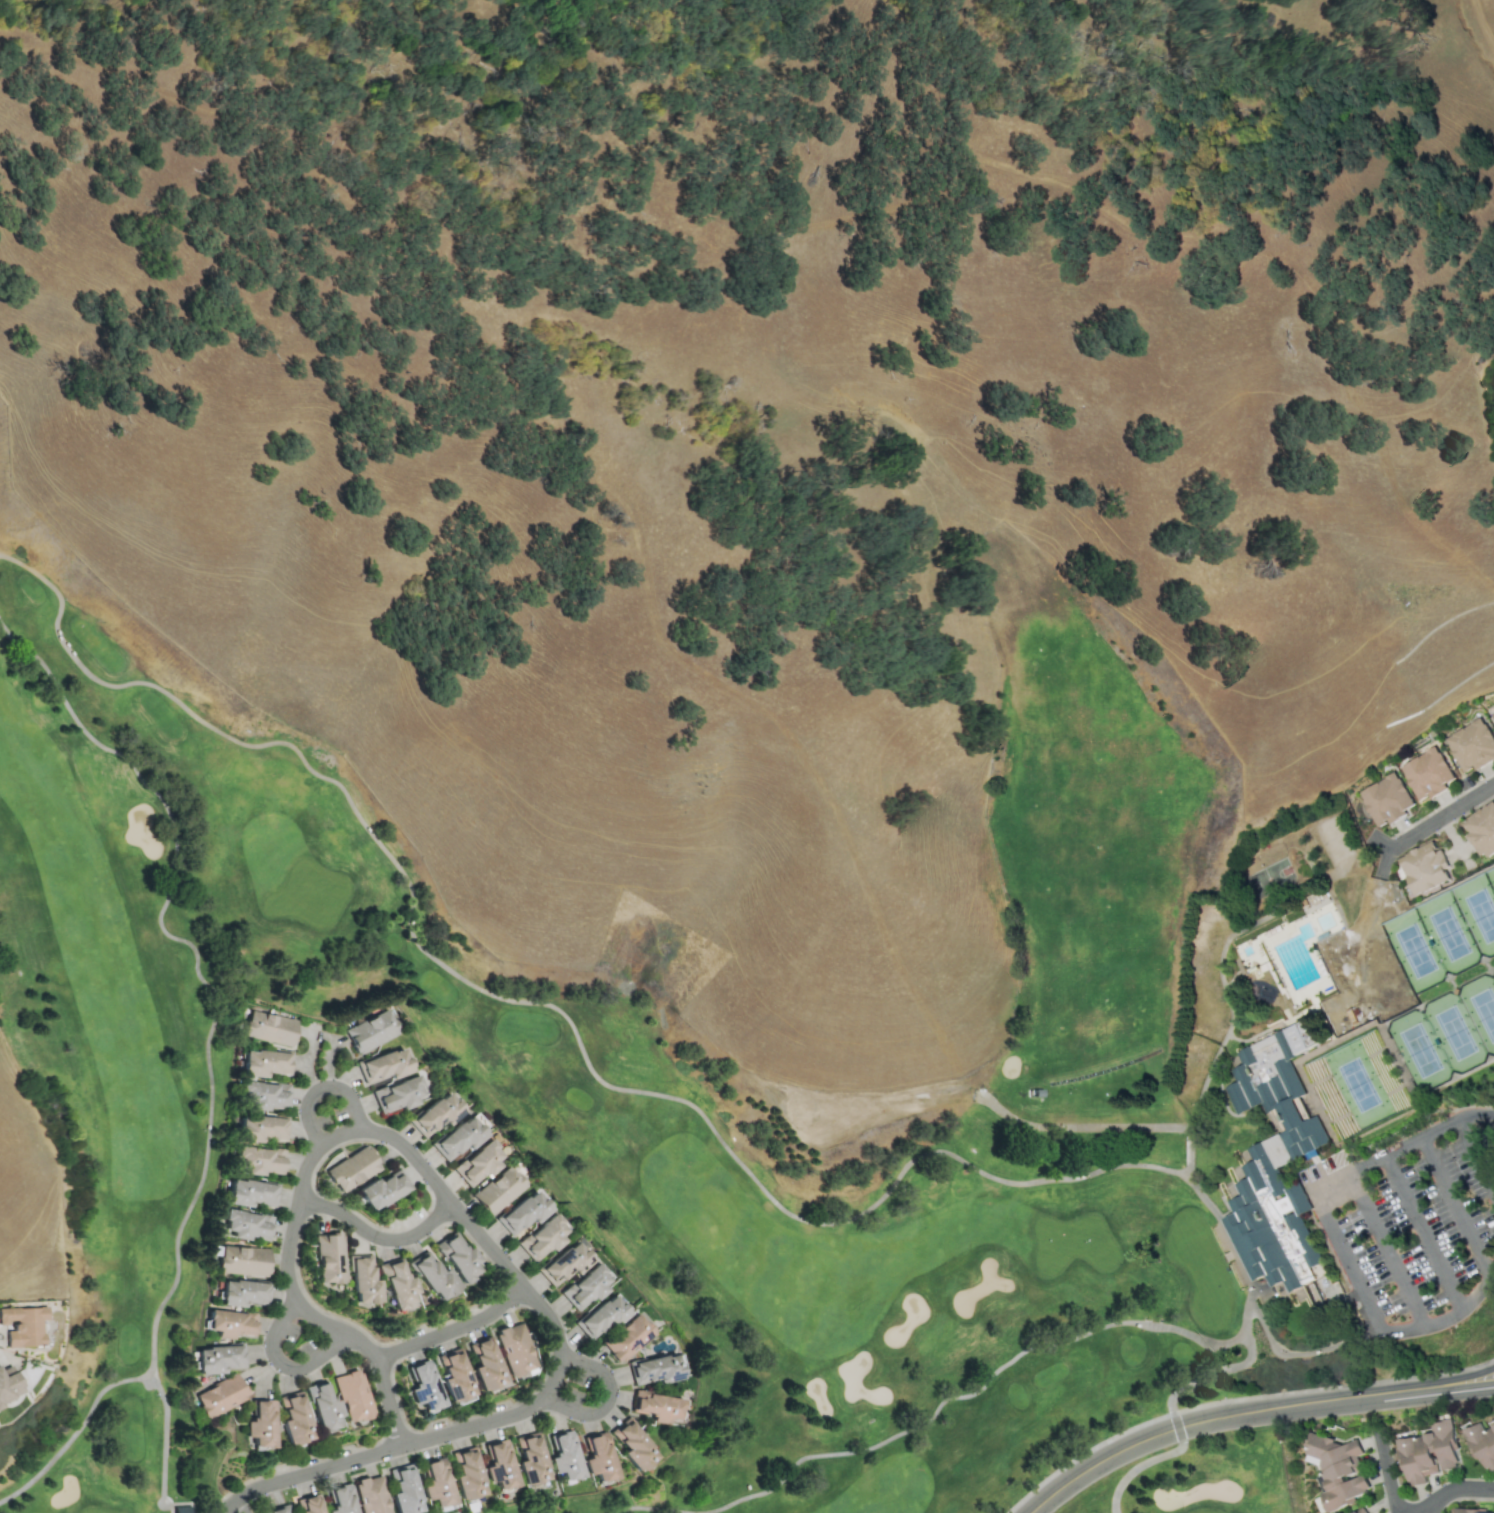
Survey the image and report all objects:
building: (1492, 717)
building: (1471, 745)
building: (1426, 774)
building: (1384, 800)
road: (1438, 817)
building: (1482, 830)
building: (1425, 868)
park: (1444, 930)
road: (197, 958)
building: (269, 1027)
building: (371, 1031)
park: (1246, 1031)
park: (1446, 1032)
building: (263, 1062)
building: (383, 1066)
park: (1356, 1084)
road: (320, 1087)
building: (397, 1093)
building: (263, 1094)
building: (435, 1114)
road: (1101, 1125)
building: (259, 1127)
road: (339, 1132)
building: (458, 1137)
road: (1403, 1146)
road: (1476, 1156)
building: (257, 1159)
building: (1275, 1162)
building: (477, 1163)
building: (351, 1169)
building: (381, 1190)
building: (497, 1190)
building: (249, 1192)
road: (874, 1203)
road: (1456, 1207)
building: (523, 1212)
building: (246, 1224)
parking lot: (1417, 1232)
road: (1423, 1232)
road: (377, 1236)
building: (542, 1237)
road: (1386, 1250)
building: (456, 1256)
building: (327, 1258)
building: (241, 1260)
road: (1348, 1260)
building: (564, 1263)
building: (431, 1275)
park: (412, 1279)
building: (361, 1280)
building: (395, 1284)
building: (584, 1286)
building: (241, 1292)
road: (305, 1309)
building: (600, 1317)
road: (1446, 1317)
building: (229, 1323)
building: (23, 1325)
road: (453, 1329)
building: (627, 1337)
building: (513, 1349)
road: (1303, 1352)
building: (218, 1357)
road: (281, 1363)
building: (484, 1364)
building: (654, 1369)
road: (1213, 1371)
road: (1471, 1373)
road: (144, 1376)
building: (454, 1378)
building: (9, 1387)
building: (423, 1387)
road: (1472, 1388)
road: (546, 1391)
road: (1413, 1393)
building: (218, 1395)
building: (351, 1396)
road: (608, 1398)
building: (655, 1406)
building: (321, 1407)
building: (292, 1419)
road: (1190, 1423)
building: (258, 1424)
road: (1178, 1427)
park: (374, 1440)
park: (112, 1442)
building: (1481, 1443)
building: (631, 1445)
building: (1428, 1452)
building: (563, 1455)
building: (596, 1457)
building: (529, 1460)
building: (498, 1465)
road: (1135, 1467)
building: (1337, 1469)
building: (465, 1474)
road: (1387, 1481)
building: (435, 1483)
road: (1453, 1489)
building: (402, 1490)
building: (370, 1495)
building: (340, 1499)
building: (309, 1504)
building: (277, 1509)
building: (1361, 1511)
building: (1473, 1511)
road: (1401, 1512)
road: (1420, 1512)

